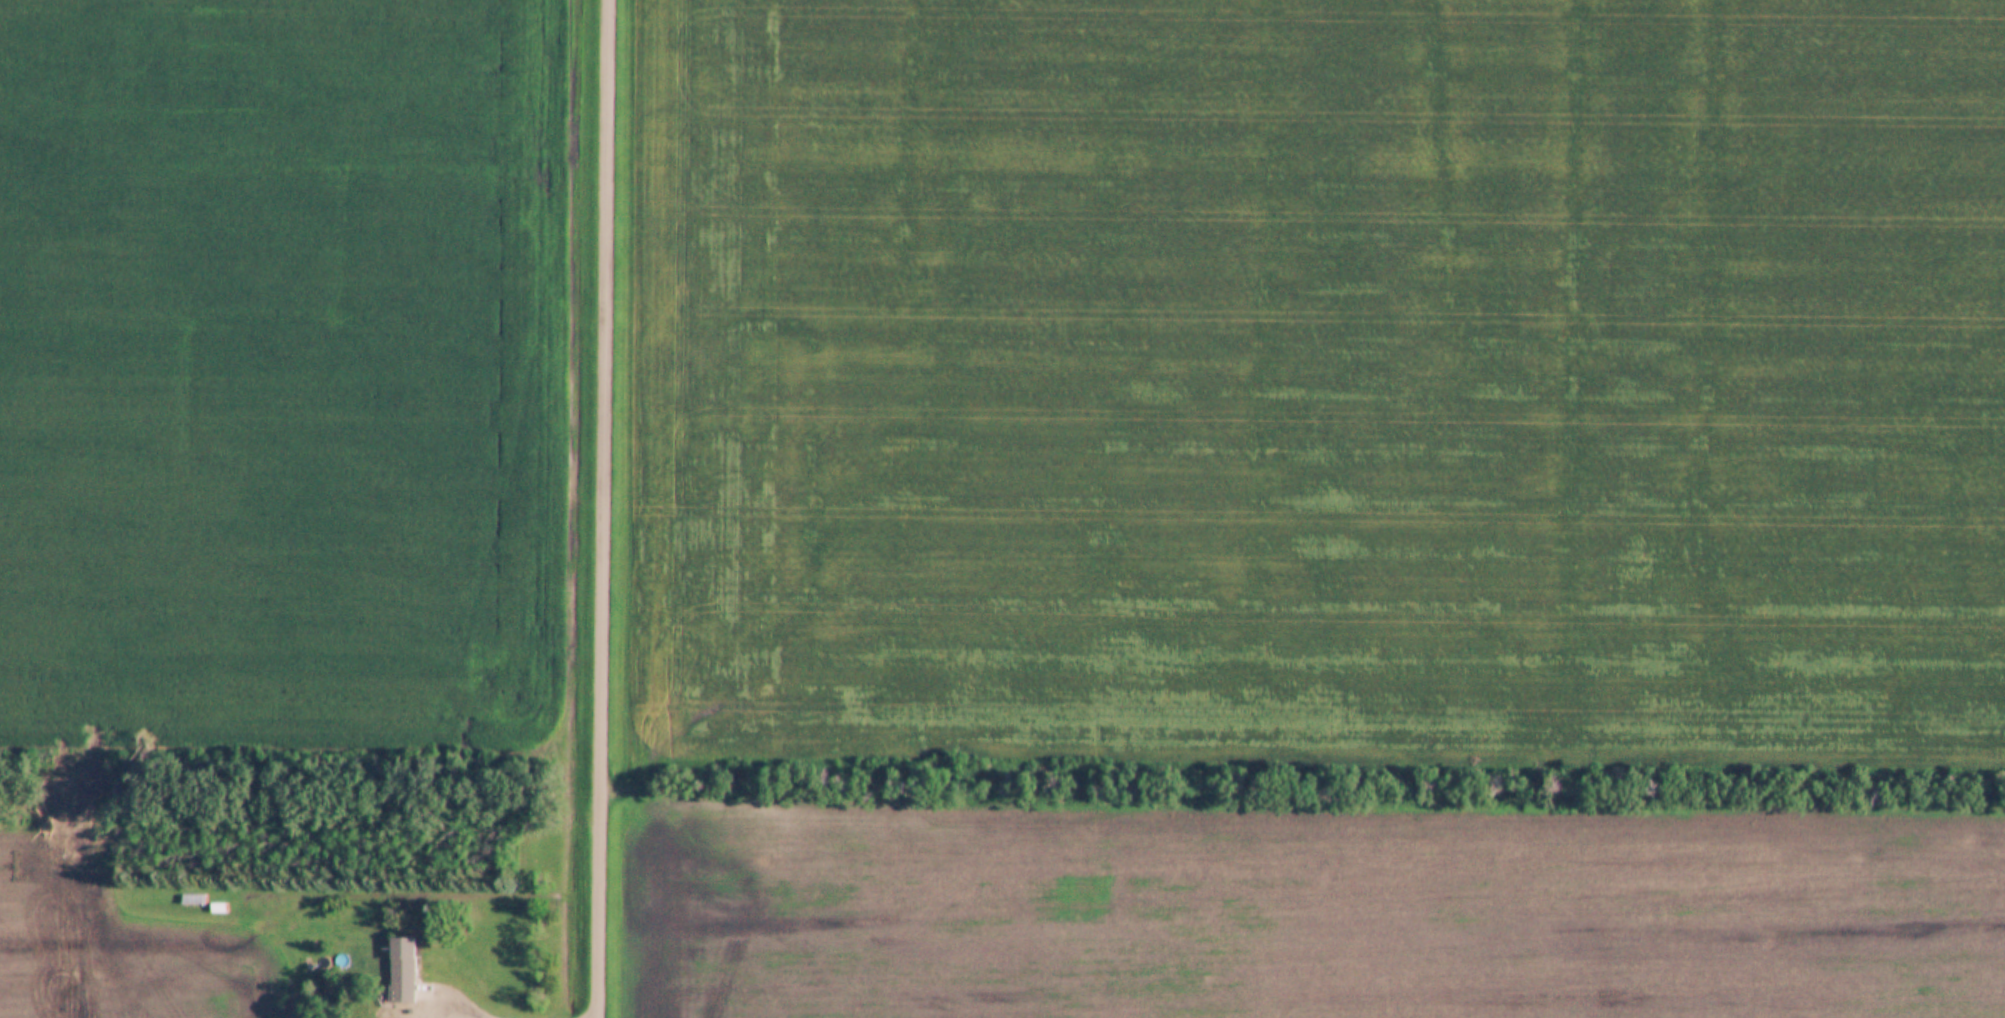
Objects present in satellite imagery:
road: (604, 509)
building: (192, 899)
building: (403, 971)

